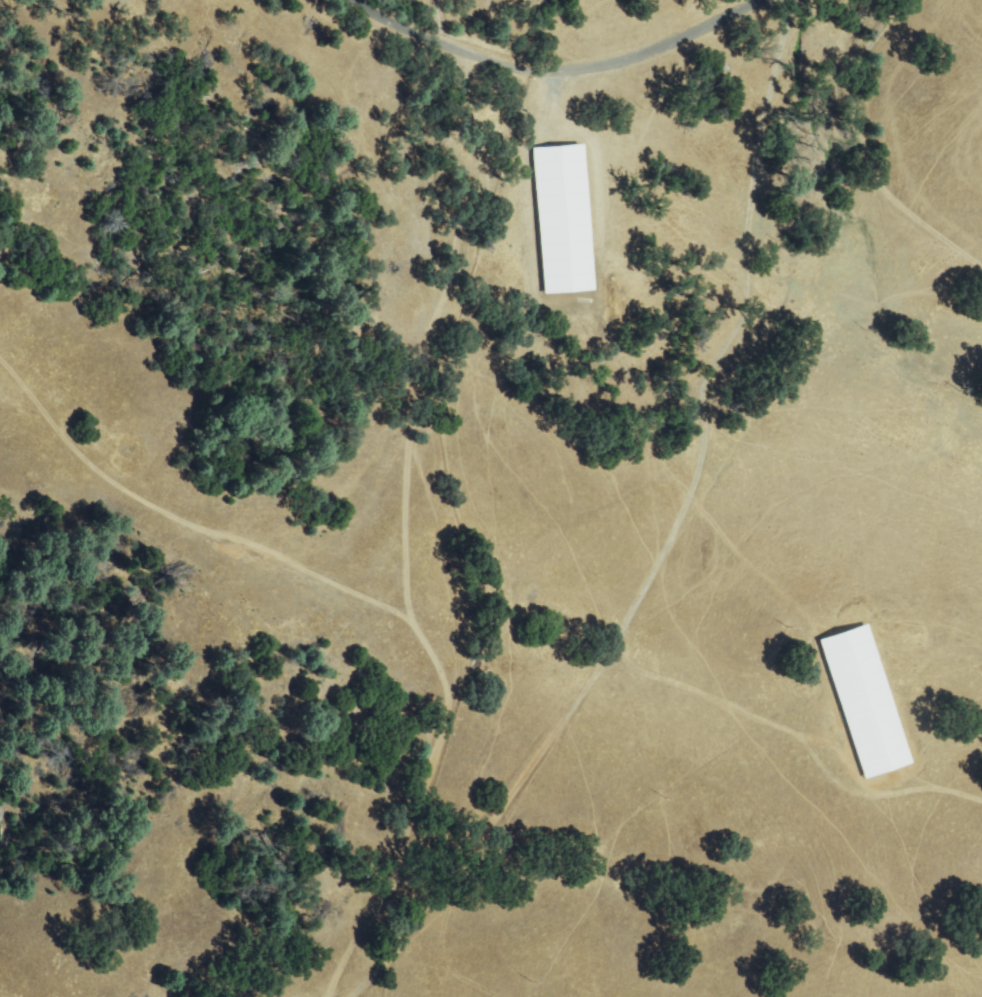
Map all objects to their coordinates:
road: (553, 70)
road: (884, 195)
road: (676, 523)
building: (528, 637)
building: (305, 691)

